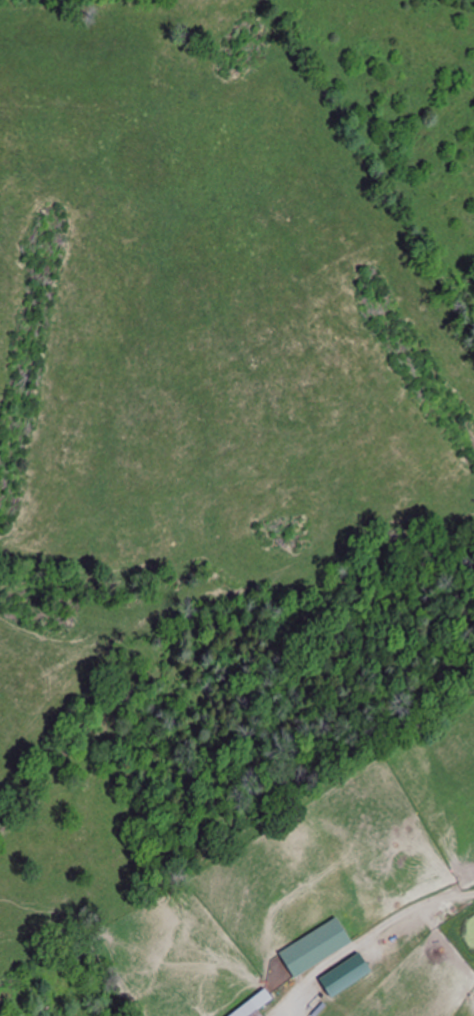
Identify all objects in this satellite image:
building: (470, 935)
building: (319, 948)
building: (351, 976)
building: (265, 1014)

